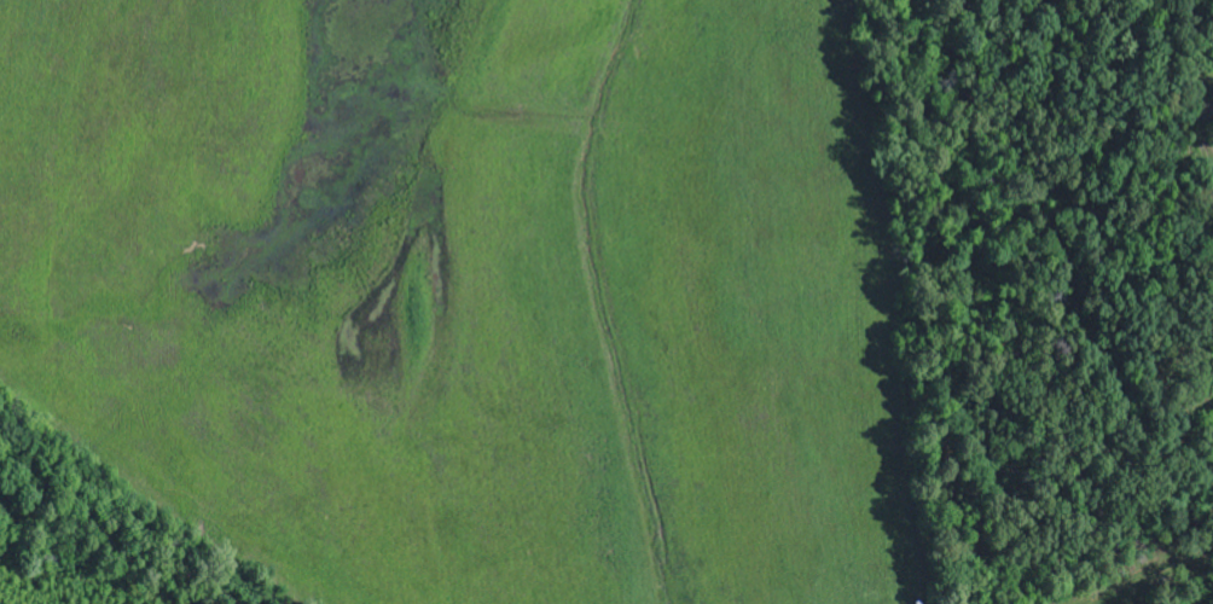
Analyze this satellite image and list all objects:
road: (1211, 116)

